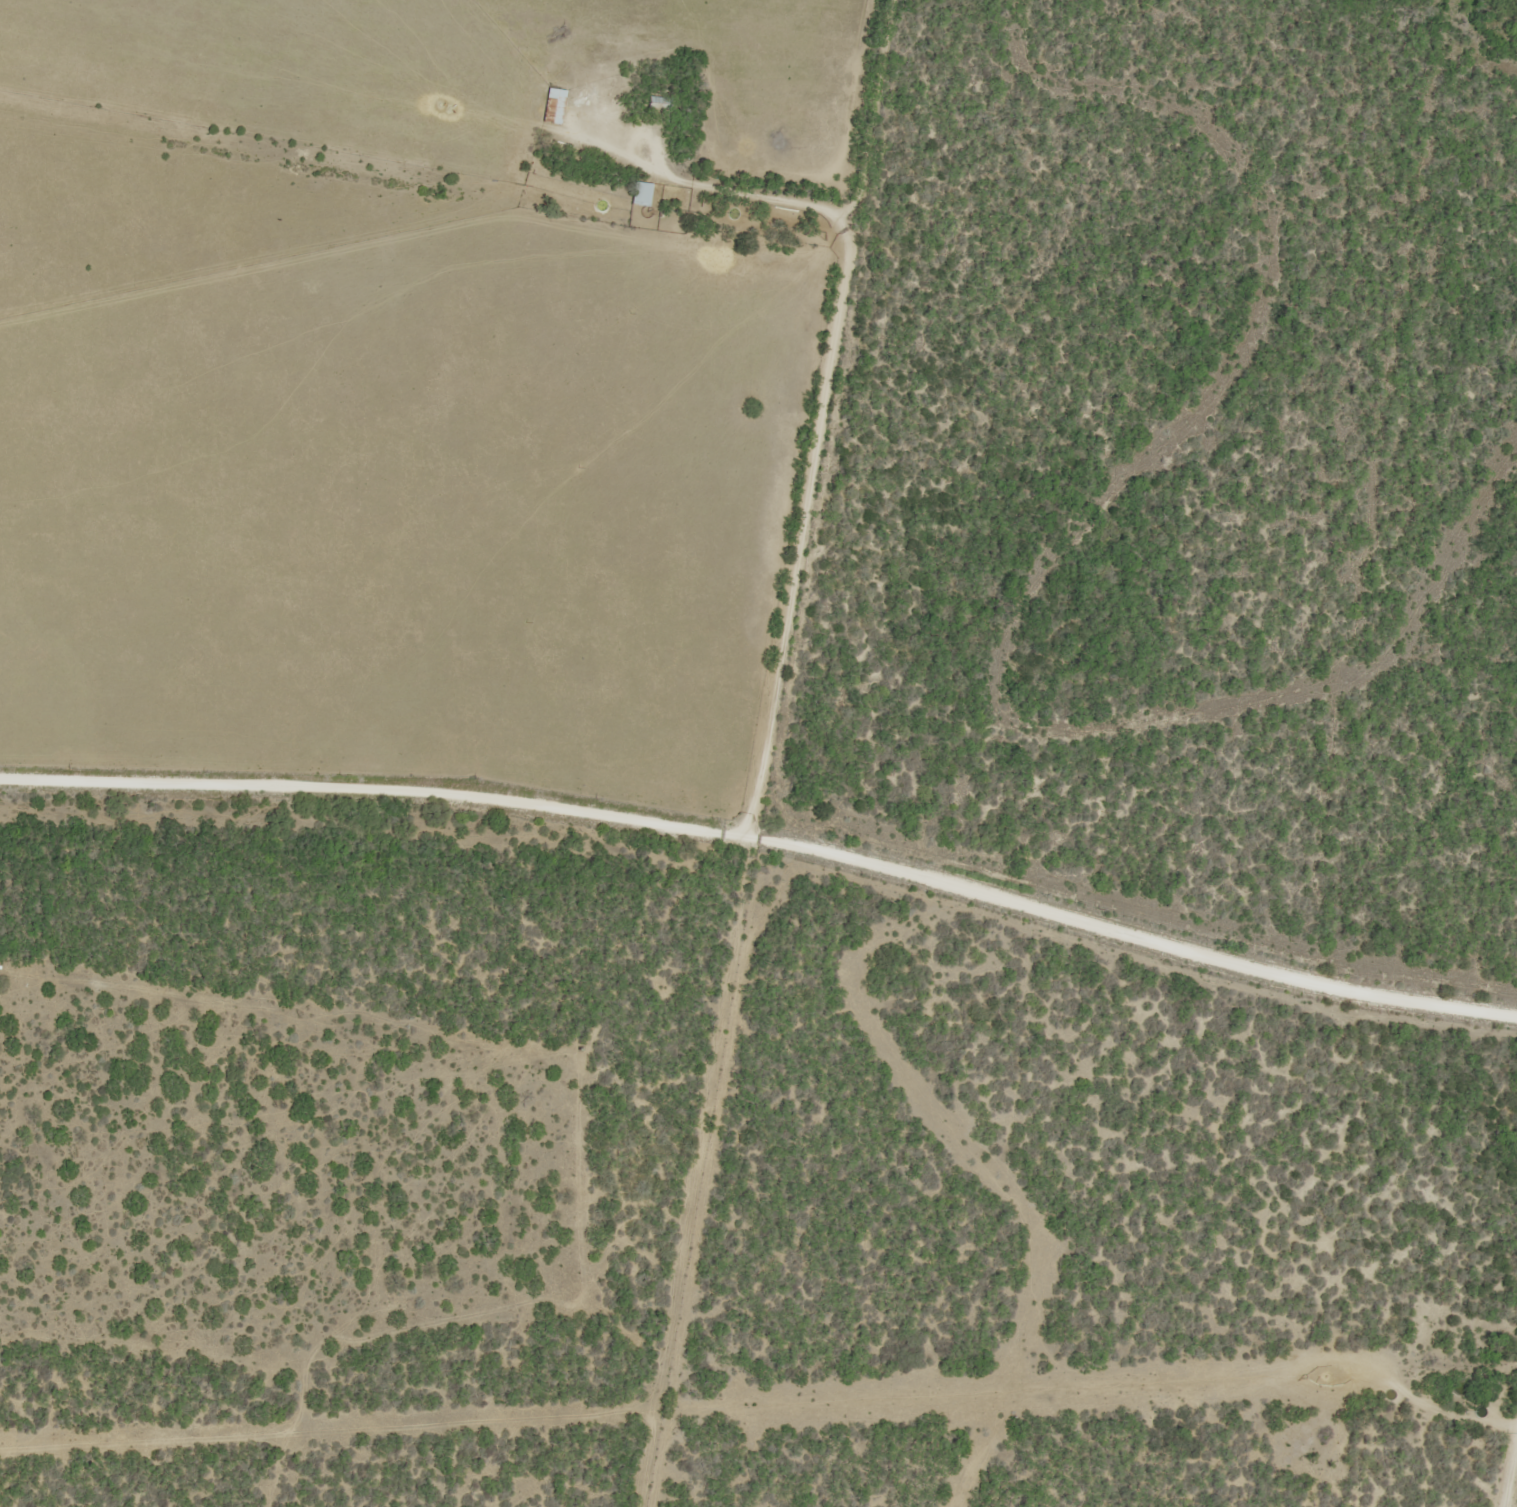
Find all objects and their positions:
building: (658, 104)
building: (552, 105)
building: (640, 192)
road: (822, 417)
road: (770, 839)
road: (1513, 1487)

